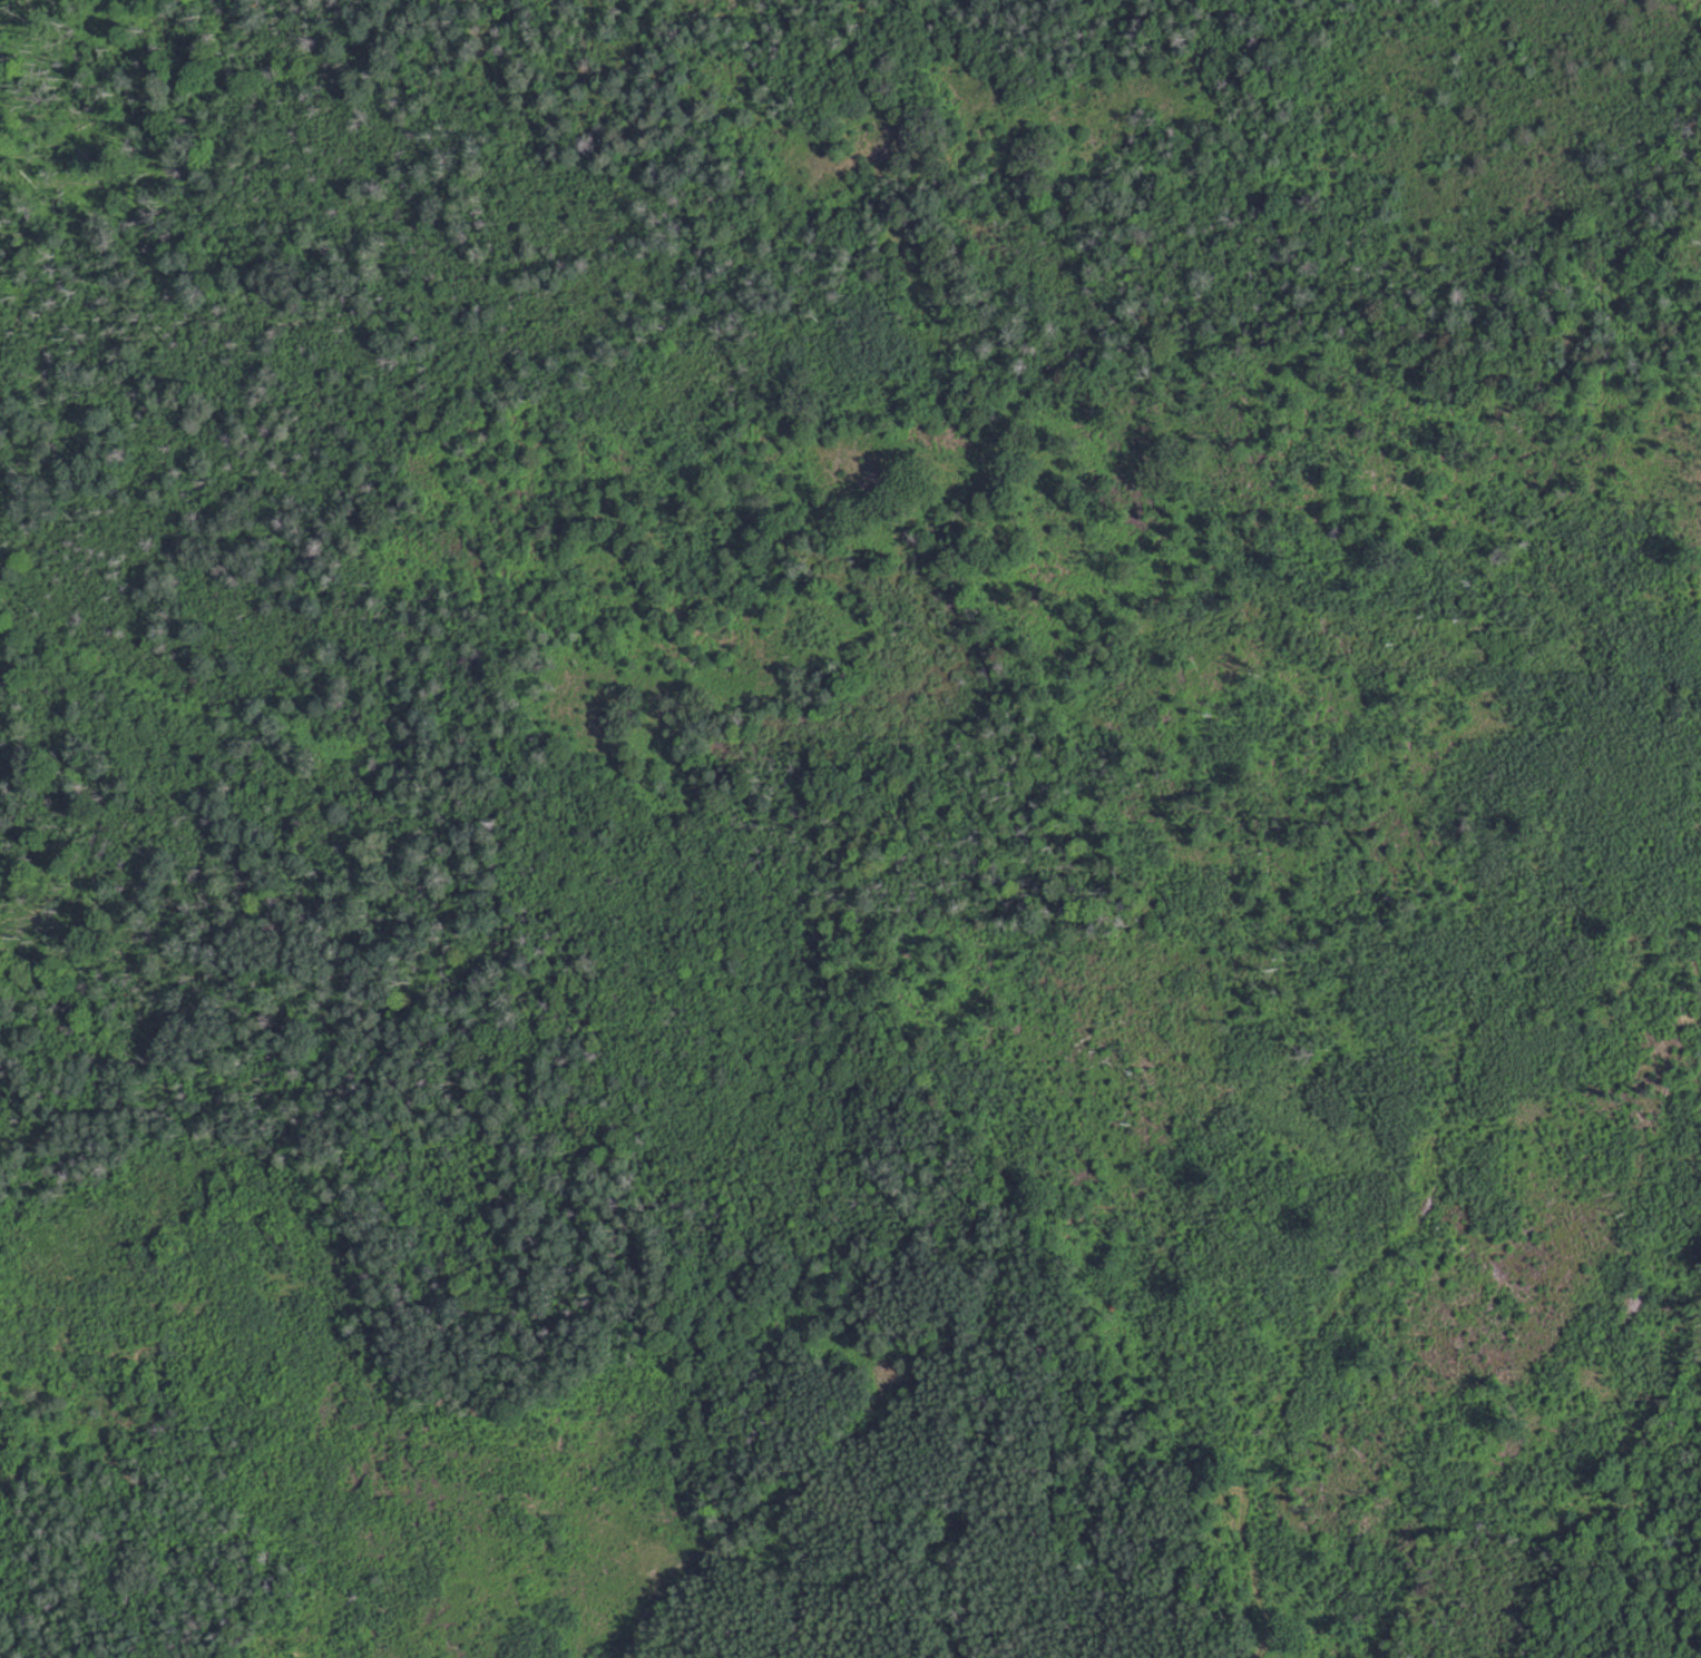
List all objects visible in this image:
road: (1445, 1458)
road: (664, 1588)

